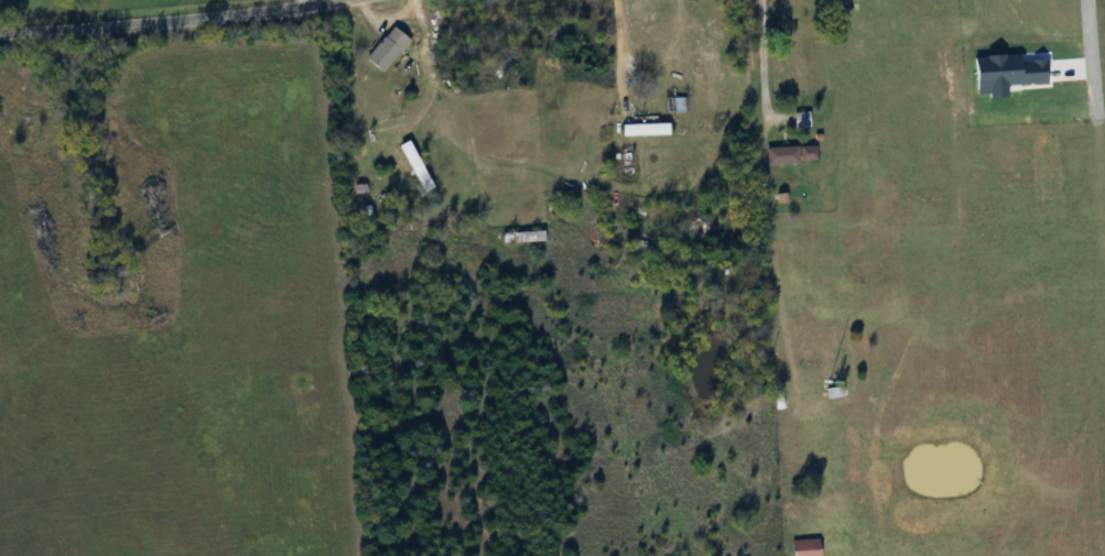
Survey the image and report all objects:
road: (286, 3)
road: (174, 20)
building: (383, 50)
road: (1074, 50)
road: (749, 66)
building: (675, 105)
building: (798, 120)
building: (640, 130)
building: (787, 154)
building: (409, 163)
building: (790, 266)
building: (826, 366)
building: (801, 547)

